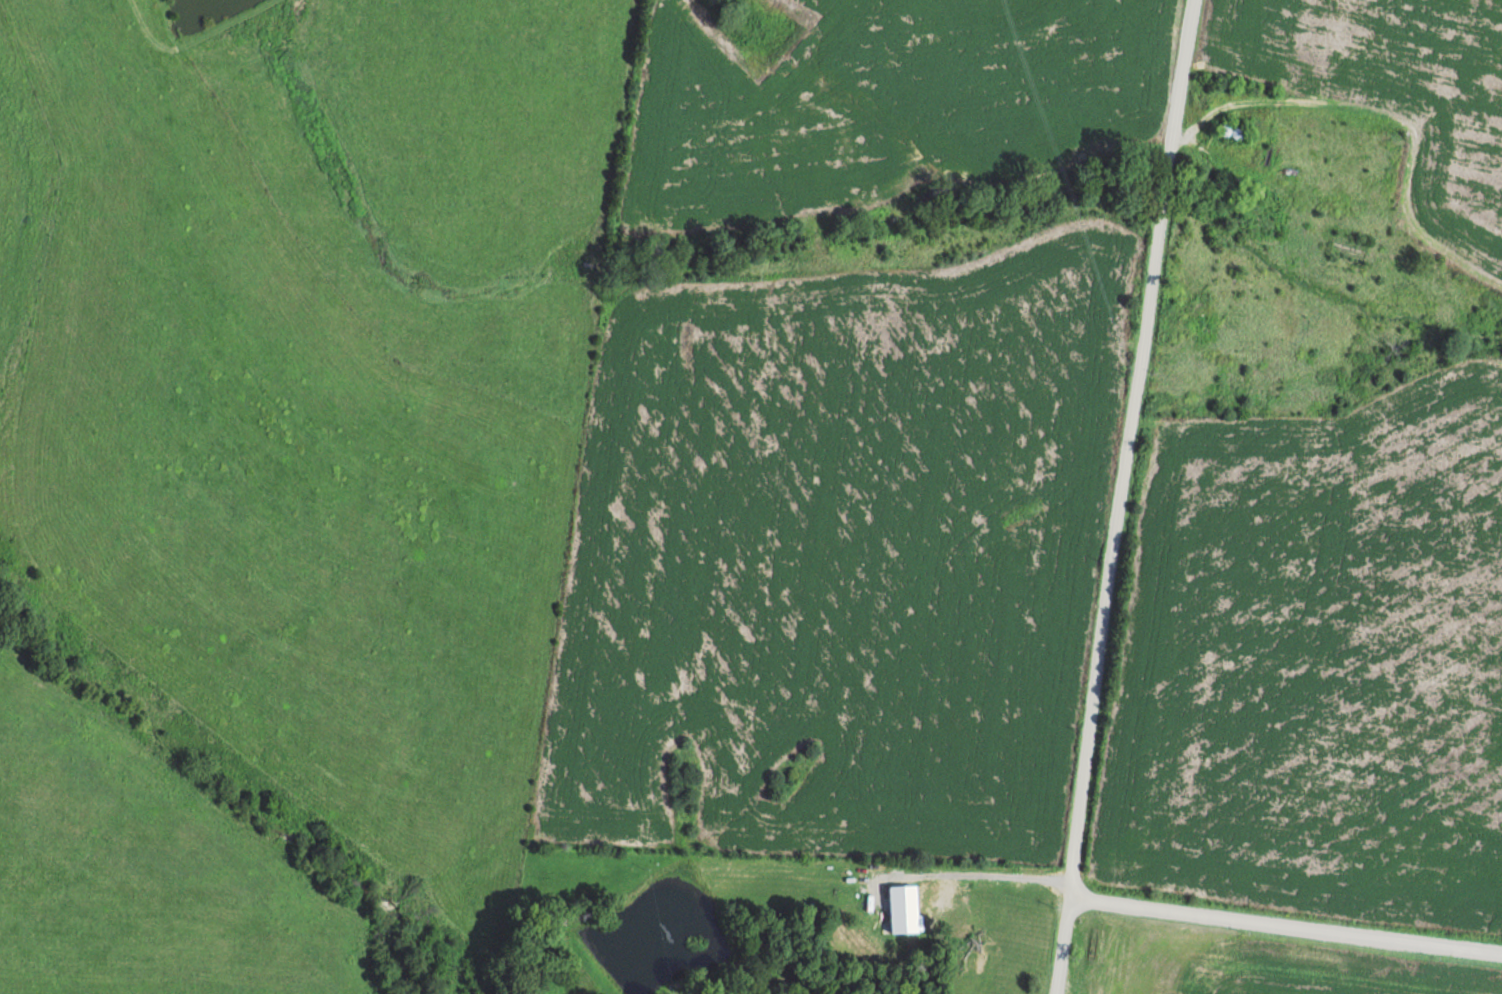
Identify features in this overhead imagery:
road: (1112, 497)
road: (1279, 957)

